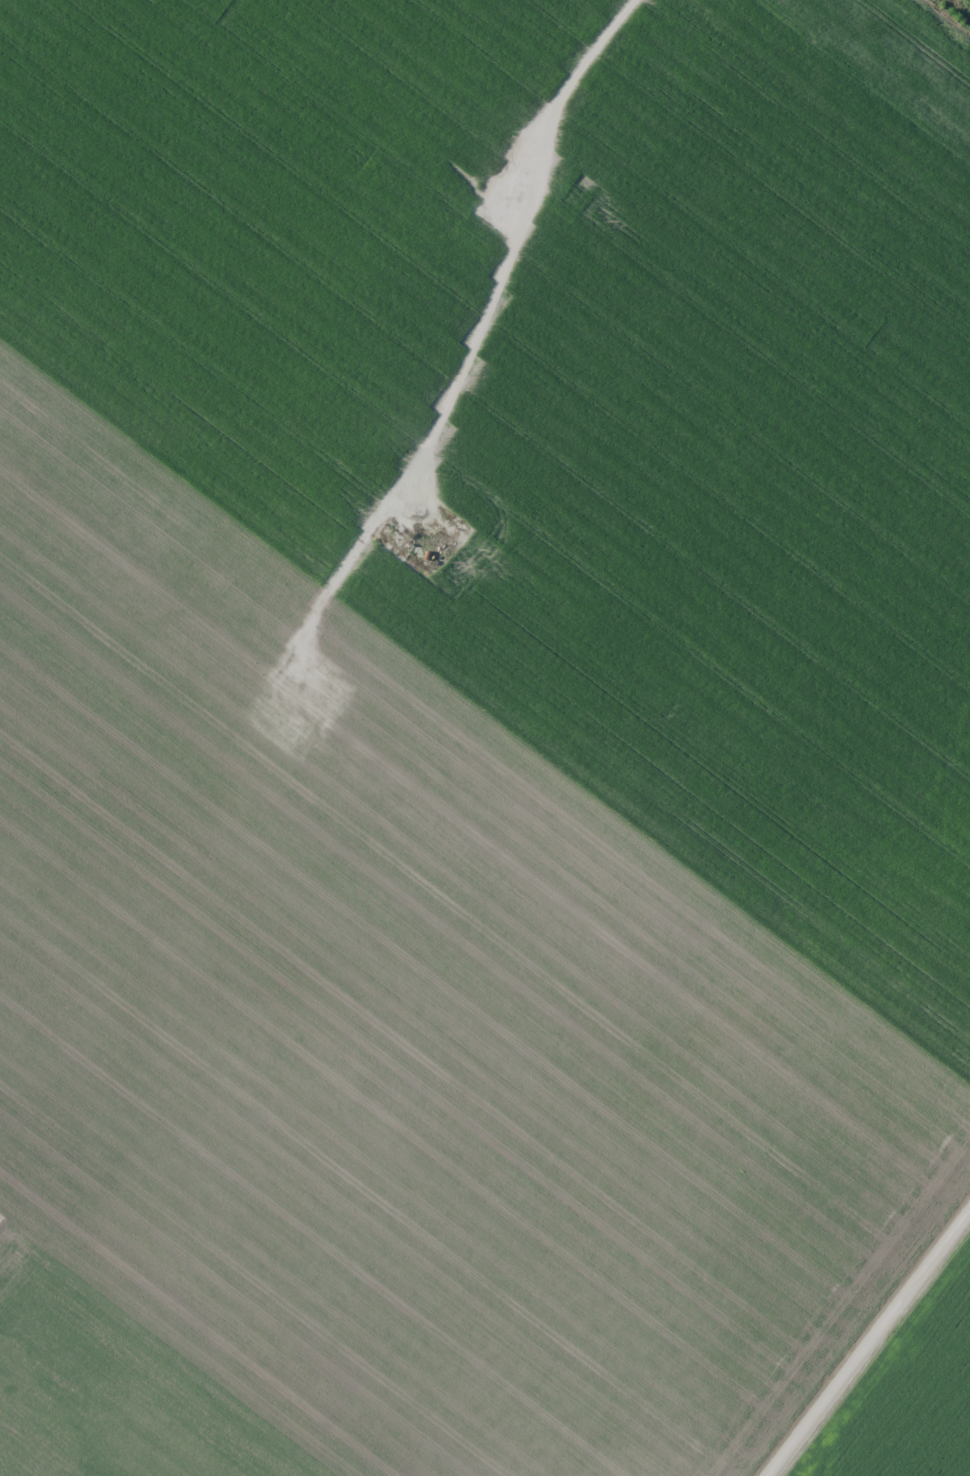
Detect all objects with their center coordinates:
road: (875, 1351)

